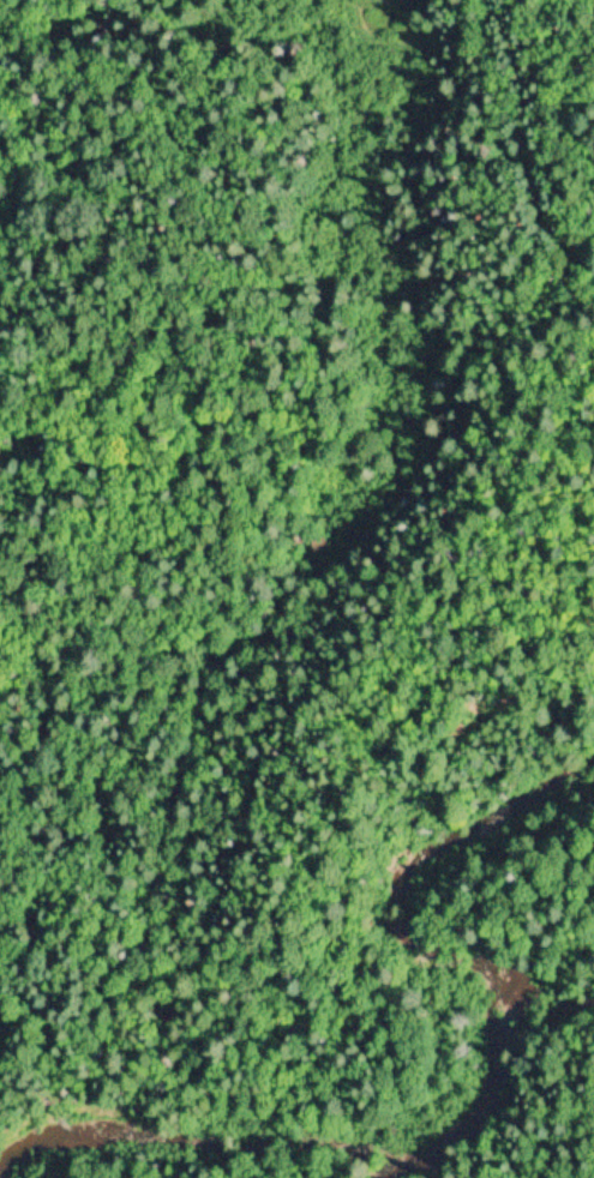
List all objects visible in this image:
road: (508, 170)
road: (23, 982)
river: (470, 1041)
river: (50, 1142)

